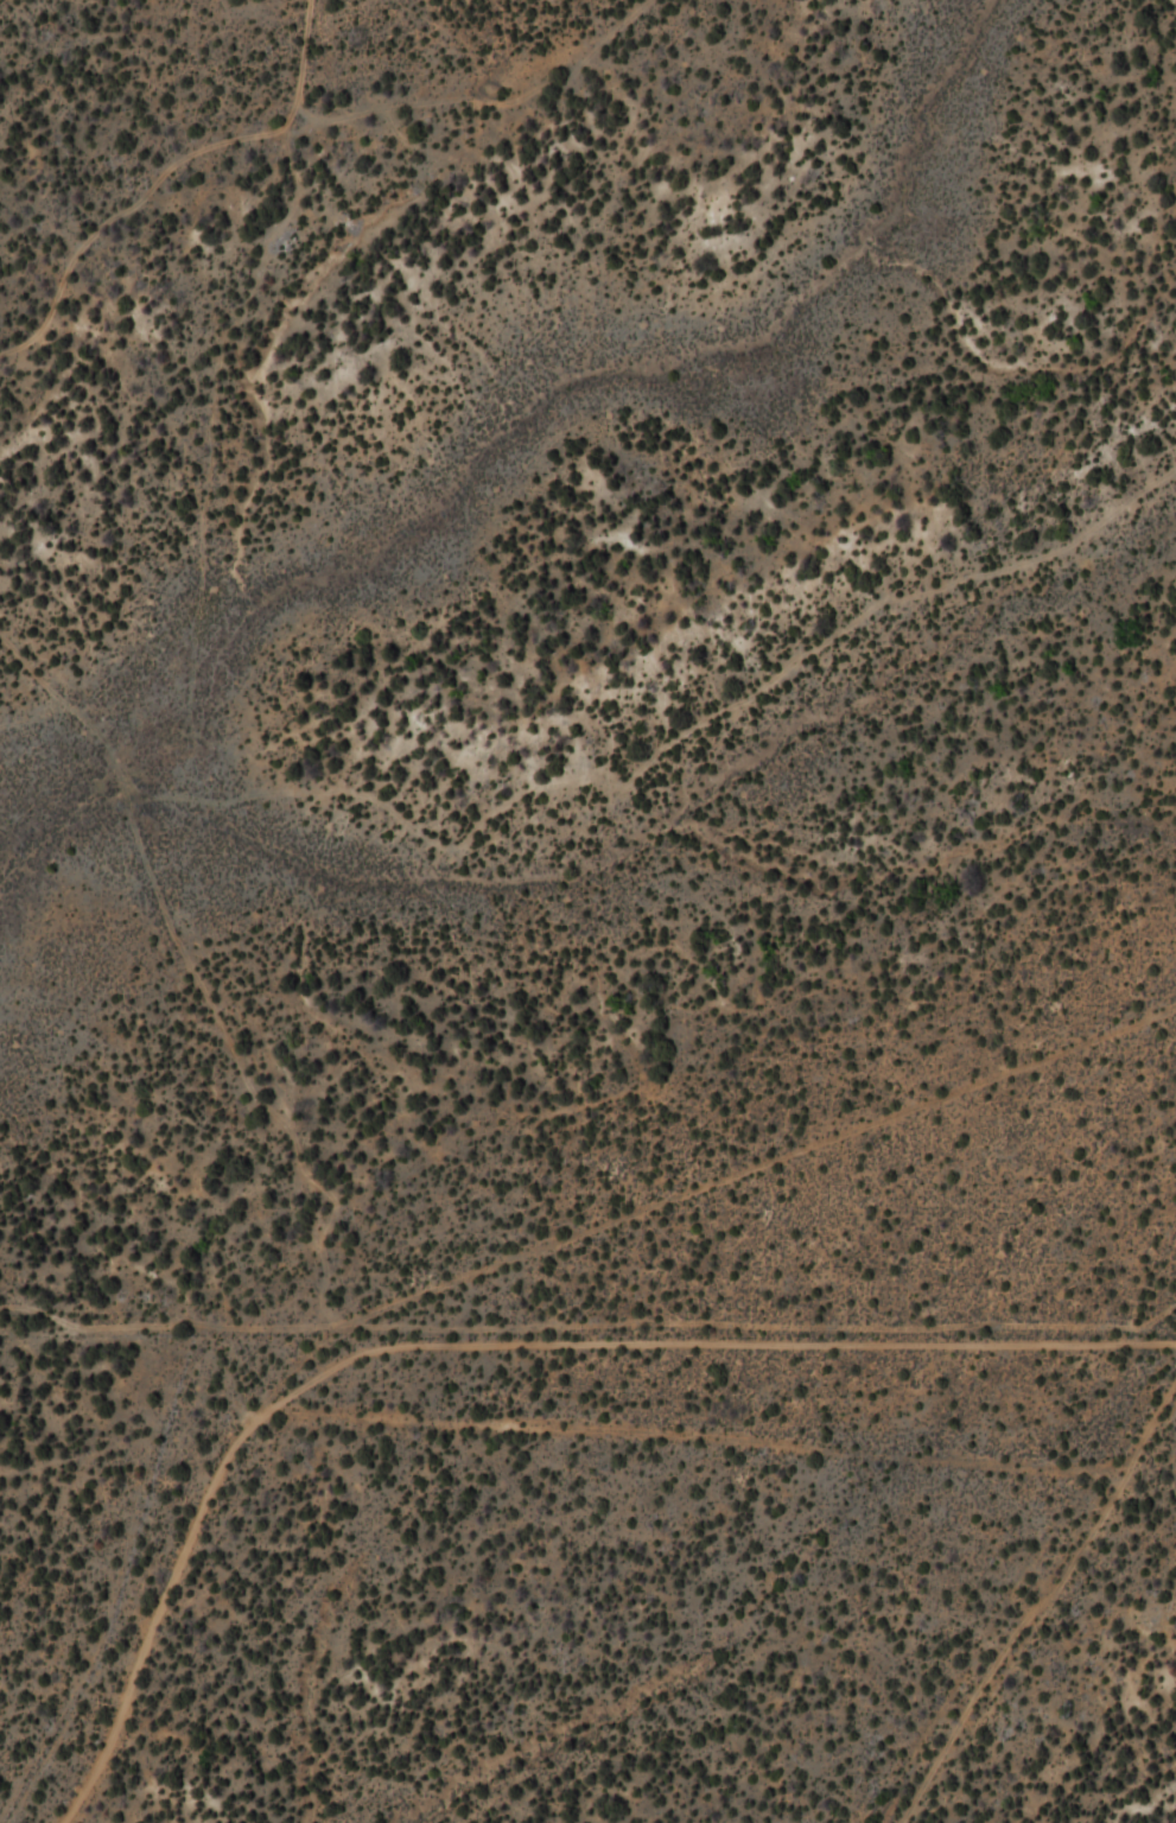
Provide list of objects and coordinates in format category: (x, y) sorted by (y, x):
road: (292, 125)
road: (477, 1344)
road: (1036, 1607)

